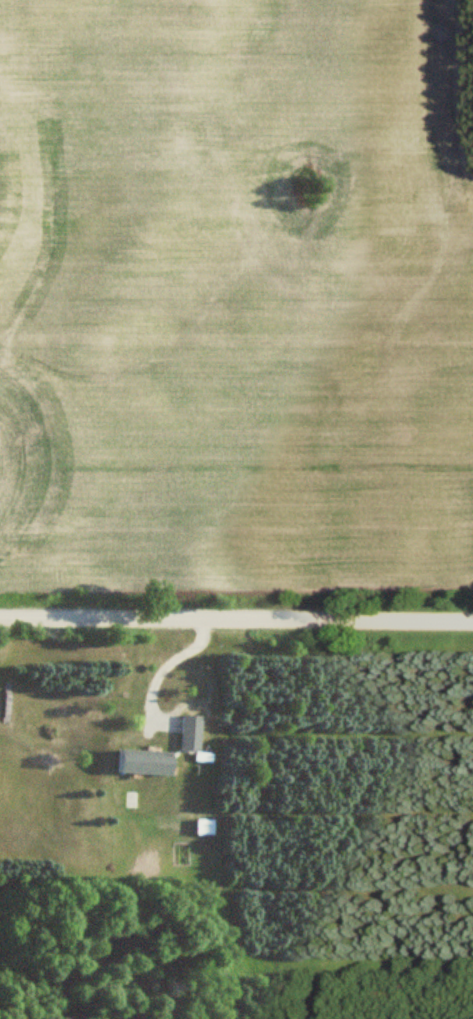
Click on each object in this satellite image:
road: (236, 616)
building: (186, 732)
building: (138, 761)
building: (203, 826)

